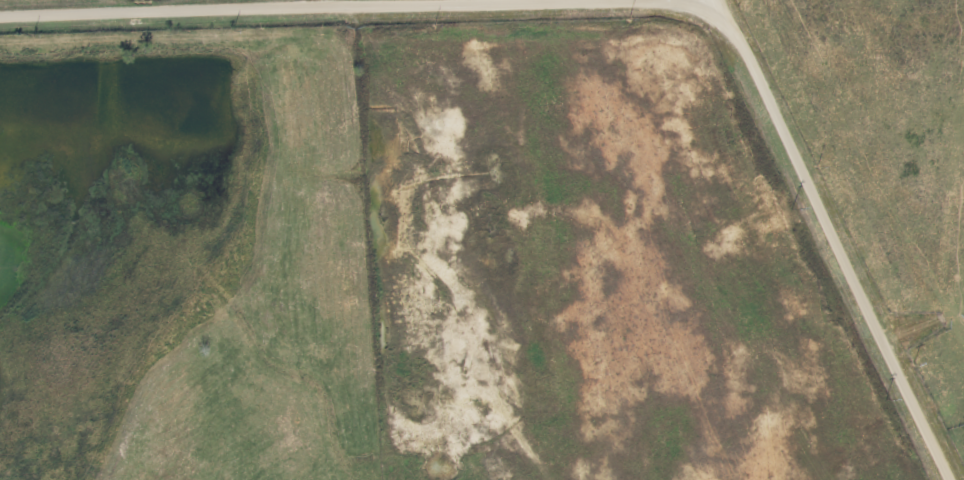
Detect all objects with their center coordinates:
road: (710, 0)
road: (235, 6)
road: (831, 240)

